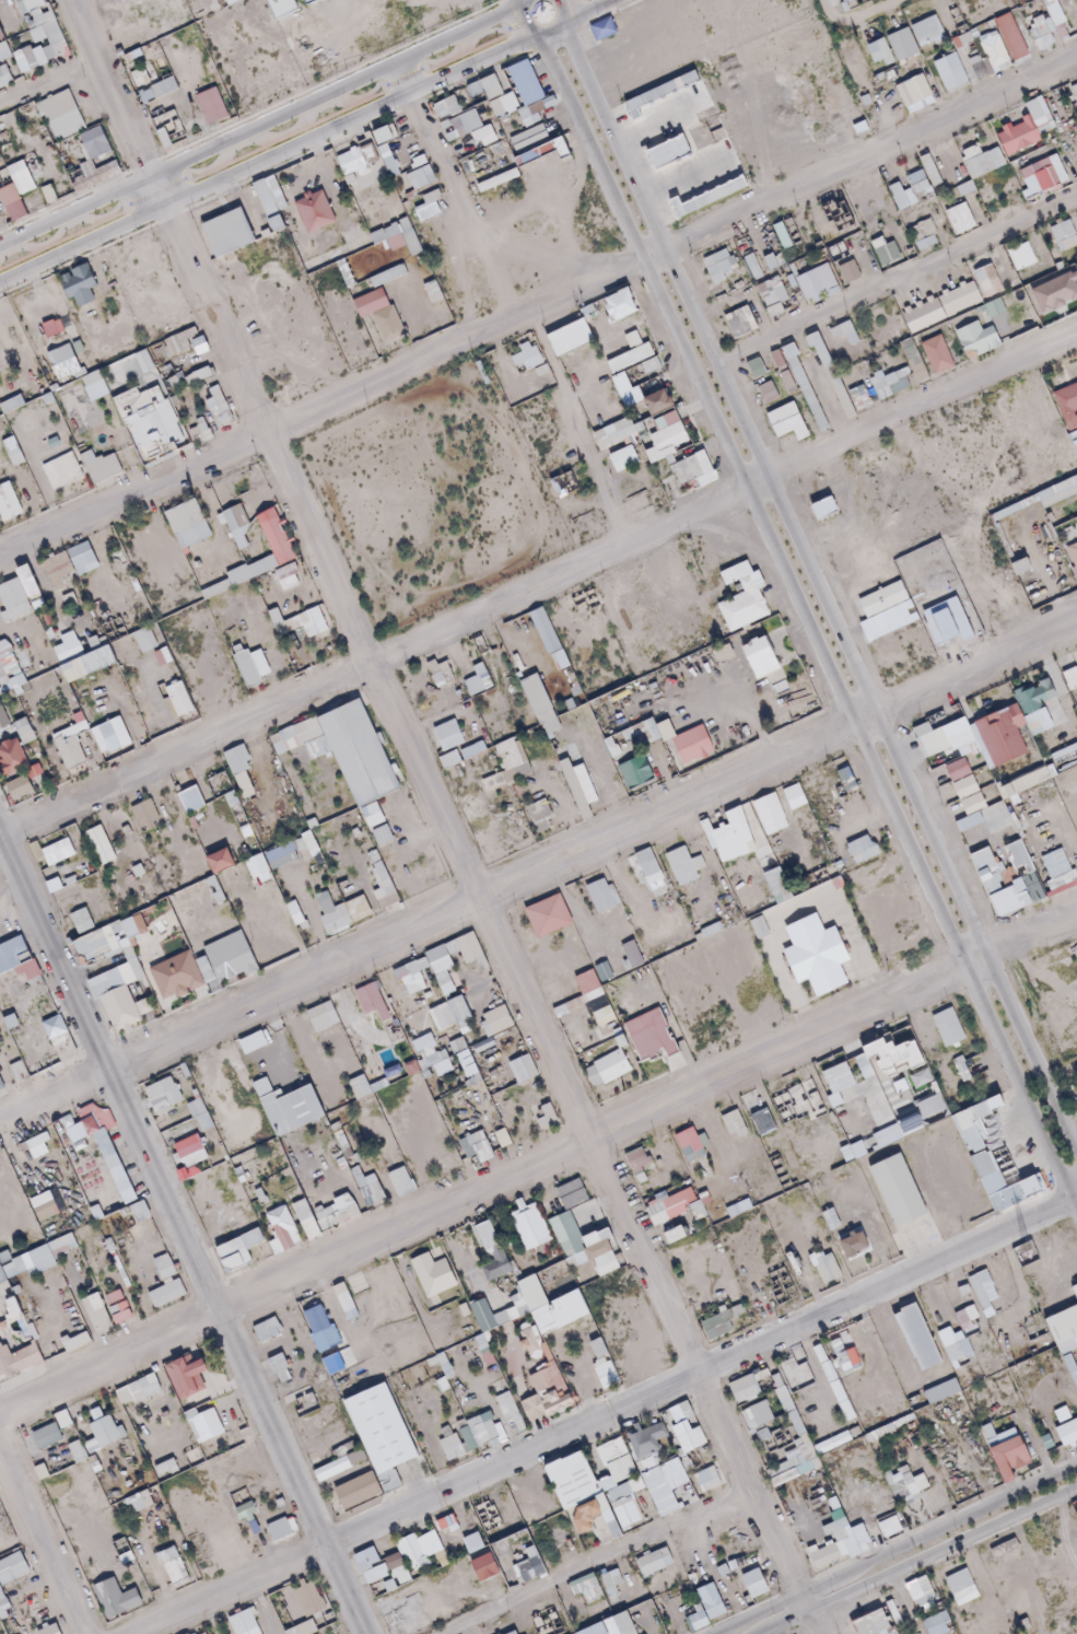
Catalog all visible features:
road: (261, 124)
road: (302, 138)
road: (538, 303)
road: (538, 584)
road: (538, 869)

